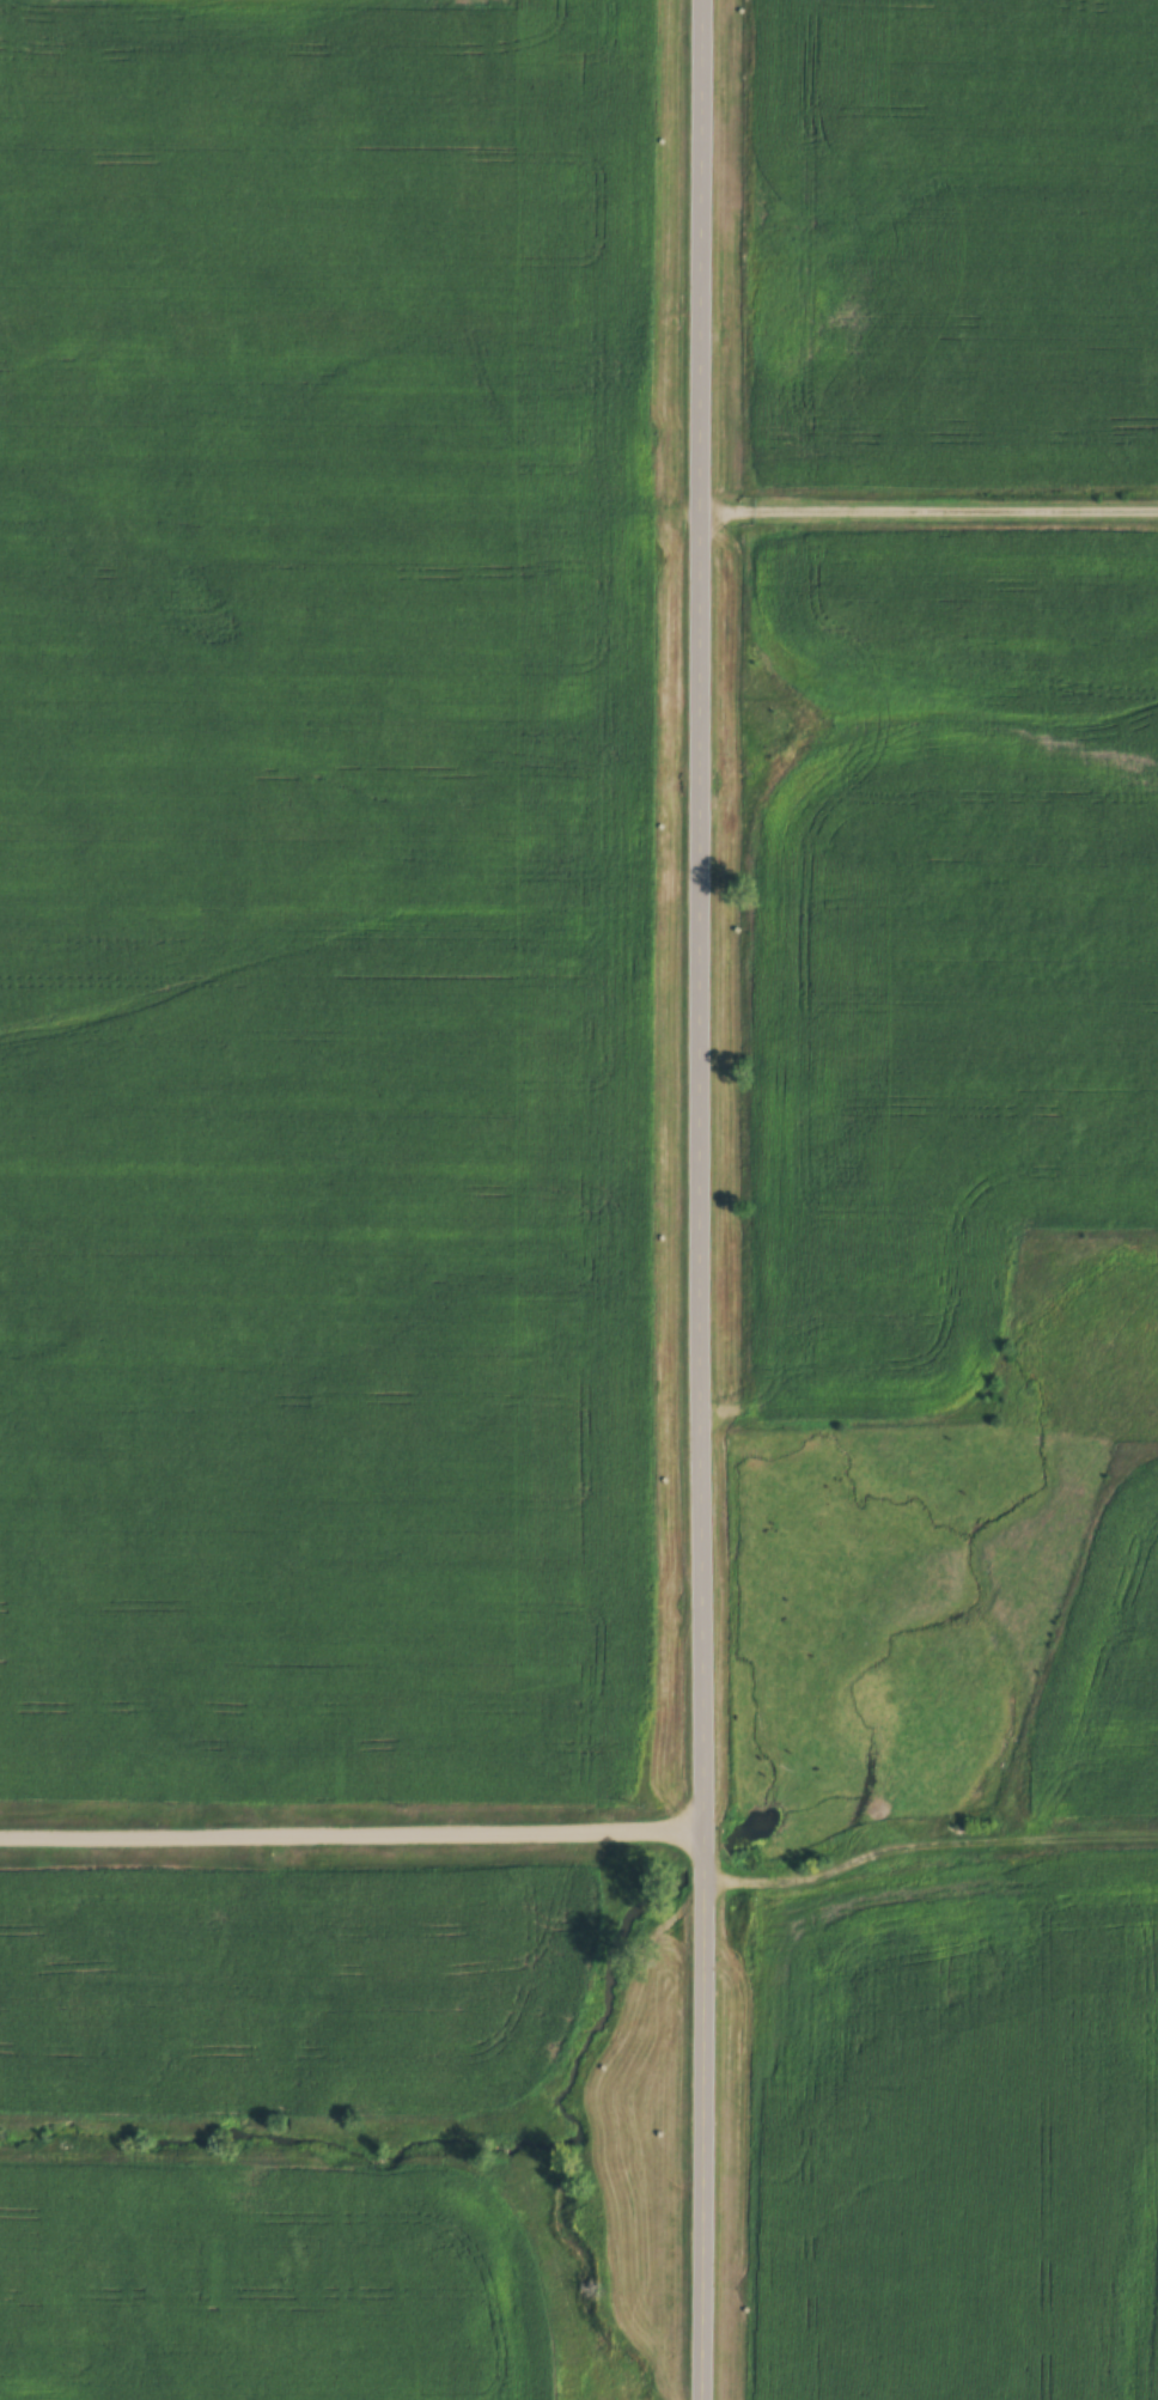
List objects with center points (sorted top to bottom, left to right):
road: (927, 505)
road: (696, 1200)
road: (352, 1828)
road: (928, 1841)

